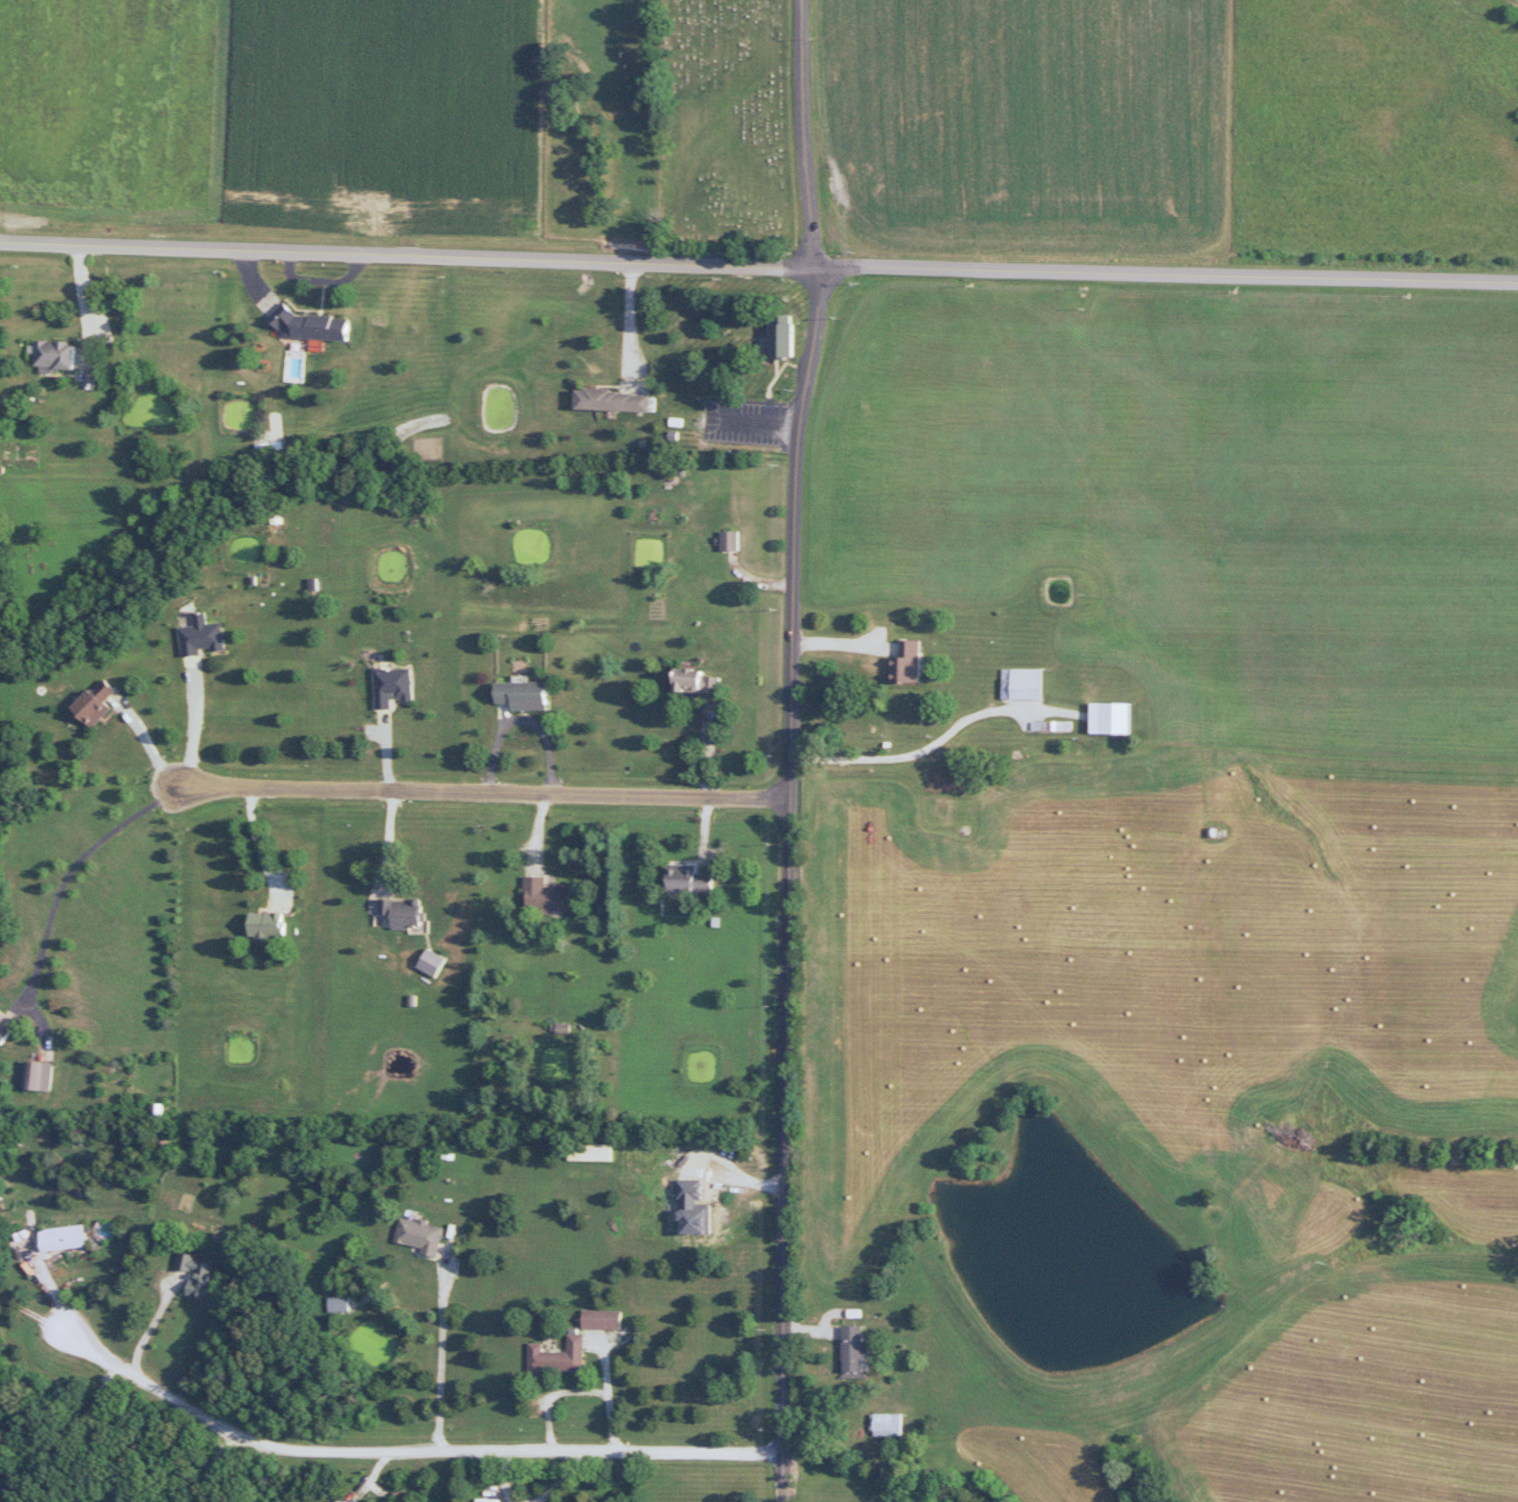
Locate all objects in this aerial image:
road: (758, 265)
road: (629, 320)
building: (316, 325)
building: (787, 339)
building: (57, 354)
building: (615, 400)
building: (731, 540)
building: (205, 636)
building: (908, 663)
building: (700, 682)
building: (1024, 684)
building: (394, 686)
building: (528, 695)
building: (102, 703)
building: (1115, 718)
road: (189, 728)
road: (935, 739)
road: (144, 749)
road: (786, 750)
building: (941, 780)
road: (482, 789)
road: (254, 842)
road: (67, 871)
building: (691, 879)
building: (550, 896)
building: (409, 916)
building: (271, 925)
building: (39, 1076)
building: (599, 1152)
building: (421, 1236)
building: (64, 1238)
building: (205, 1281)
building: (342, 1304)
building: (605, 1320)
road: (151, 1323)
road: (435, 1346)
building: (855, 1352)
building: (560, 1359)
building: (888, 1424)
road: (72, 1431)
road: (414, 1448)
building: (340, 1501)

